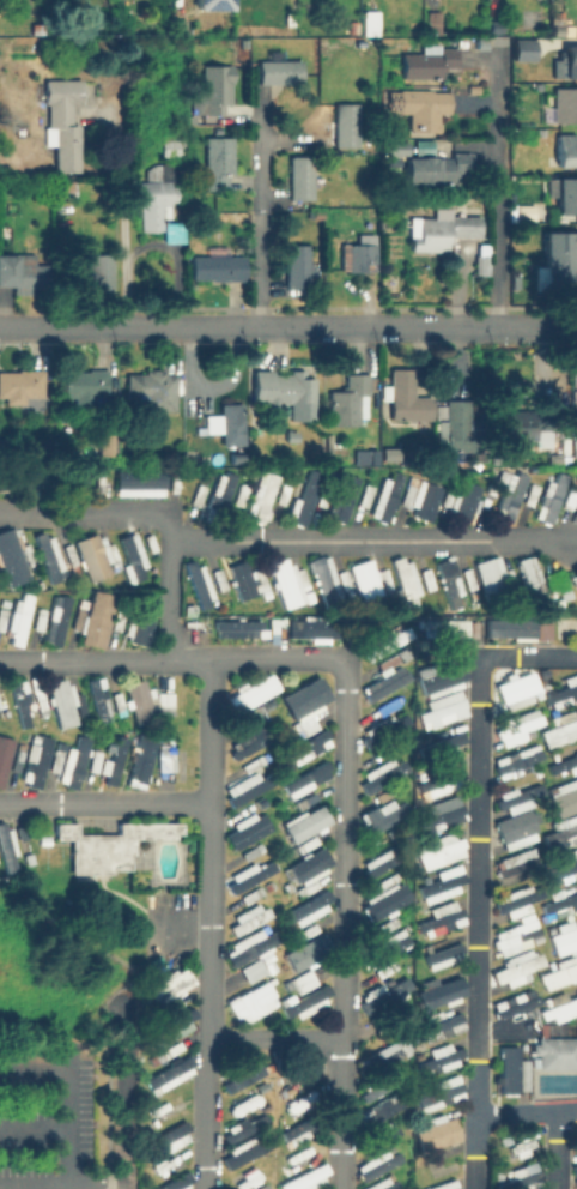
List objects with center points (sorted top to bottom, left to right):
building: (209, 4)
building: (433, 23)
building: (368, 25)
building: (37, 28)
building: (558, 31)
building: (523, 48)
building: (567, 64)
building: (430, 65)
building: (280, 71)
building: (217, 89)
building: (564, 107)
building: (423, 110)
building: (62, 120)
building: (347, 125)
building: (394, 147)
building: (174, 149)
building: (567, 150)
building: (219, 163)
building: (436, 170)
building: (302, 177)
building: (89, 185)
building: (28, 186)
building: (67, 188)
road: (496, 195)
building: (565, 197)
building: (162, 201)
building: (411, 206)
road: (257, 213)
road: (122, 221)
building: (449, 228)
building: (360, 255)
building: (560, 258)
building: (297, 265)
building: (482, 265)
building: (219, 267)
building: (22, 273)
building: (92, 273)
road: (57, 325)
road: (346, 325)
building: (85, 382)
building: (20, 385)
building: (152, 388)
building: (286, 393)
building: (405, 396)
building: (348, 400)
building: (575, 405)
building: (539, 421)
building: (227, 423)
building: (460, 428)
building: (292, 431)
building: (109, 446)
building: (575, 448)
building: (368, 459)
building: (558, 459)
building: (449, 466)
building: (136, 482)
building: (219, 489)
building: (259, 495)
building: (340, 496)
building: (383, 496)
building: (508, 496)
building: (548, 496)
building: (302, 499)
building: (421, 499)
building: (461, 500)
road: (97, 512)
road: (373, 538)
building: (92, 555)
building: (129, 557)
building: (49, 559)
building: (10, 560)
building: (492, 575)
building: (527, 575)
building: (238, 579)
building: (362, 579)
building: (382, 579)
building: (328, 580)
building: (403, 580)
building: (195, 581)
building: (448, 581)
building: (288, 584)
road: (170, 597)
building: (2, 617)
building: (20, 617)
building: (41, 617)
building: (96, 620)
building: (142, 621)
building: (59, 622)
building: (518, 623)
building: (236, 628)
building: (309, 628)
building: (439, 628)
building: (384, 642)
road: (172, 657)
building: (442, 677)
building: (382, 683)
building: (516, 687)
building: (249, 693)
building: (302, 696)
building: (563, 698)
building: (101, 701)
building: (140, 701)
building: (4, 702)
building: (80, 702)
building: (120, 702)
building: (19, 704)
building: (42, 704)
building: (62, 705)
building: (442, 711)
building: (523, 724)
building: (561, 731)
building: (245, 743)
building: (309, 743)
building: (445, 747)
building: (563, 752)
building: (4, 755)
building: (17, 759)
building: (95, 759)
building: (55, 760)
building: (115, 760)
building: (163, 760)
building: (518, 760)
building: (40, 761)
building: (142, 761)
building: (75, 762)
building: (566, 766)
building: (379, 774)
building: (304, 779)
building: (443, 785)
building: (244, 786)
building: (520, 796)
building: (565, 797)
road: (104, 799)
building: (382, 814)
building: (444, 816)
building: (303, 822)
building: (517, 822)
building: (245, 829)
building: (560, 835)
building: (110, 844)
building: (6, 849)
building: (441, 851)
building: (306, 864)
building: (516, 869)
road: (475, 870)
building: (560, 870)
building: (248, 874)
building: (442, 887)
building: (520, 898)
building: (561, 904)
building: (305, 907)
building: (443, 919)
road: (208, 923)
road: (342, 923)
building: (518, 935)
building: (565, 936)
building: (247, 946)
building: (304, 952)
building: (445, 958)
building: (518, 968)
building: (250, 970)
building: (558, 976)
building: (170, 983)
building: (394, 989)
building: (439, 994)
building: (249, 1002)
building: (305, 1002)
building: (516, 1007)
building: (561, 1010)
building: (172, 1025)
building: (436, 1027)
road: (274, 1038)
building: (385, 1051)
building: (557, 1052)
building: (438, 1057)
building: (166, 1074)
building: (511, 1074)
building: (241, 1078)
road: (73, 1092)
building: (443, 1093)
road: (126, 1098)
building: (378, 1109)
road: (526, 1112)
building: (576, 1127)
road: (36, 1128)
building: (236, 1129)
building: (294, 1131)
building: (437, 1133)
building: (576, 1133)
building: (169, 1136)
building: (523, 1146)
road: (553, 1149)
building: (239, 1152)
building: (376, 1163)
building: (576, 1164)
building: (303, 1178)
building: (520, 1179)
building: (176, 1182)
building: (379, 1184)
road: (62, 1185)
building: (453, 1187)

